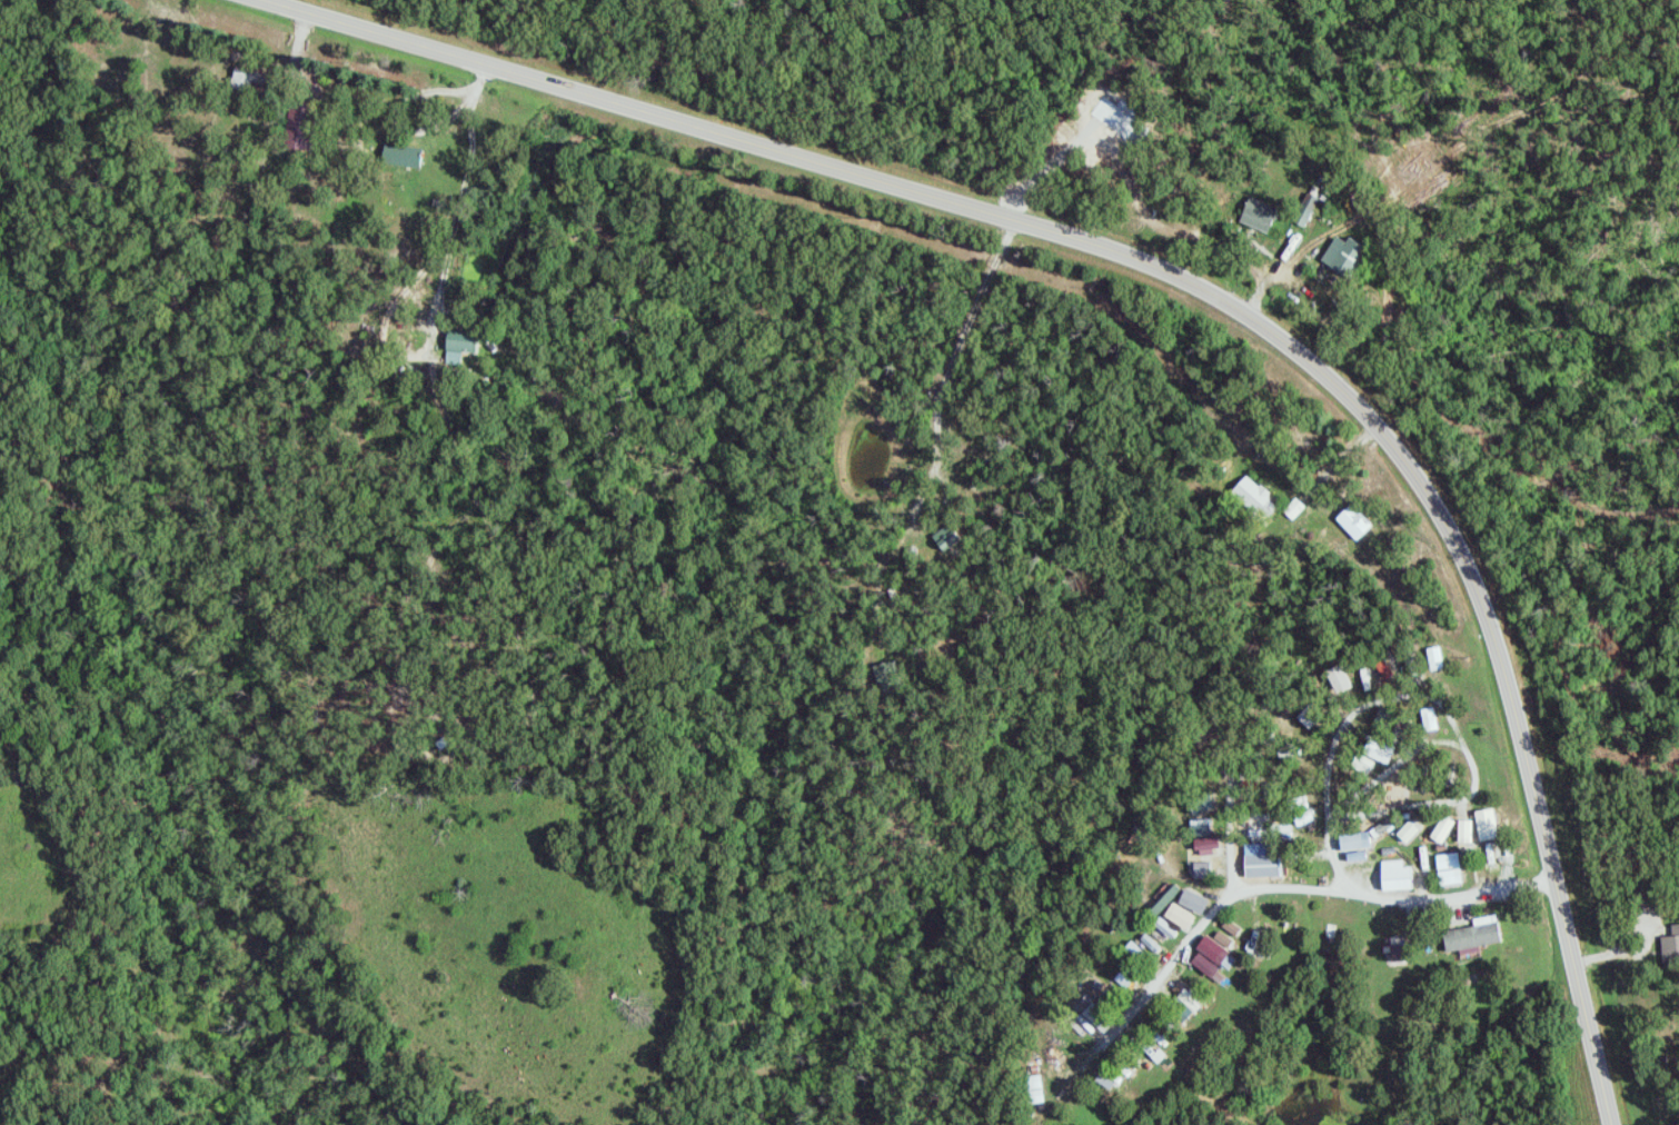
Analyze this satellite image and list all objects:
building: (246, 79)
building: (298, 125)
building: (403, 156)
building: (1308, 210)
building: (1261, 215)
building: (1347, 255)
road: (1194, 283)
building: (459, 345)
road: (963, 354)
building: (1256, 497)
building: (1355, 521)
building: (946, 537)
road: (1581, 600)
building: (1435, 658)
building: (1385, 670)
building: (887, 679)
building: (1340, 679)
building: (1308, 718)
building: (1430, 719)
building: (1380, 751)
building: (1488, 825)
building: (1382, 828)
building: (1443, 829)
building: (1409, 832)
building: (1466, 832)
building: (1205, 838)
building: (1355, 842)
building: (1358, 856)
building: (1262, 862)
building: (1203, 869)
building: (1450, 869)
building: (1397, 876)
building: (1163, 898)
building: (1194, 902)
road: (1402, 908)
building: (1181, 917)
building: (1166, 928)
building: (1232, 928)
road: (1208, 929)
building: (1472, 936)
building: (1224, 939)
building: (1151, 943)
building: (1671, 947)
building: (1399, 952)
building: (1210, 956)
building: (1188, 1005)
building: (1106, 1081)
building: (1035, 1089)

